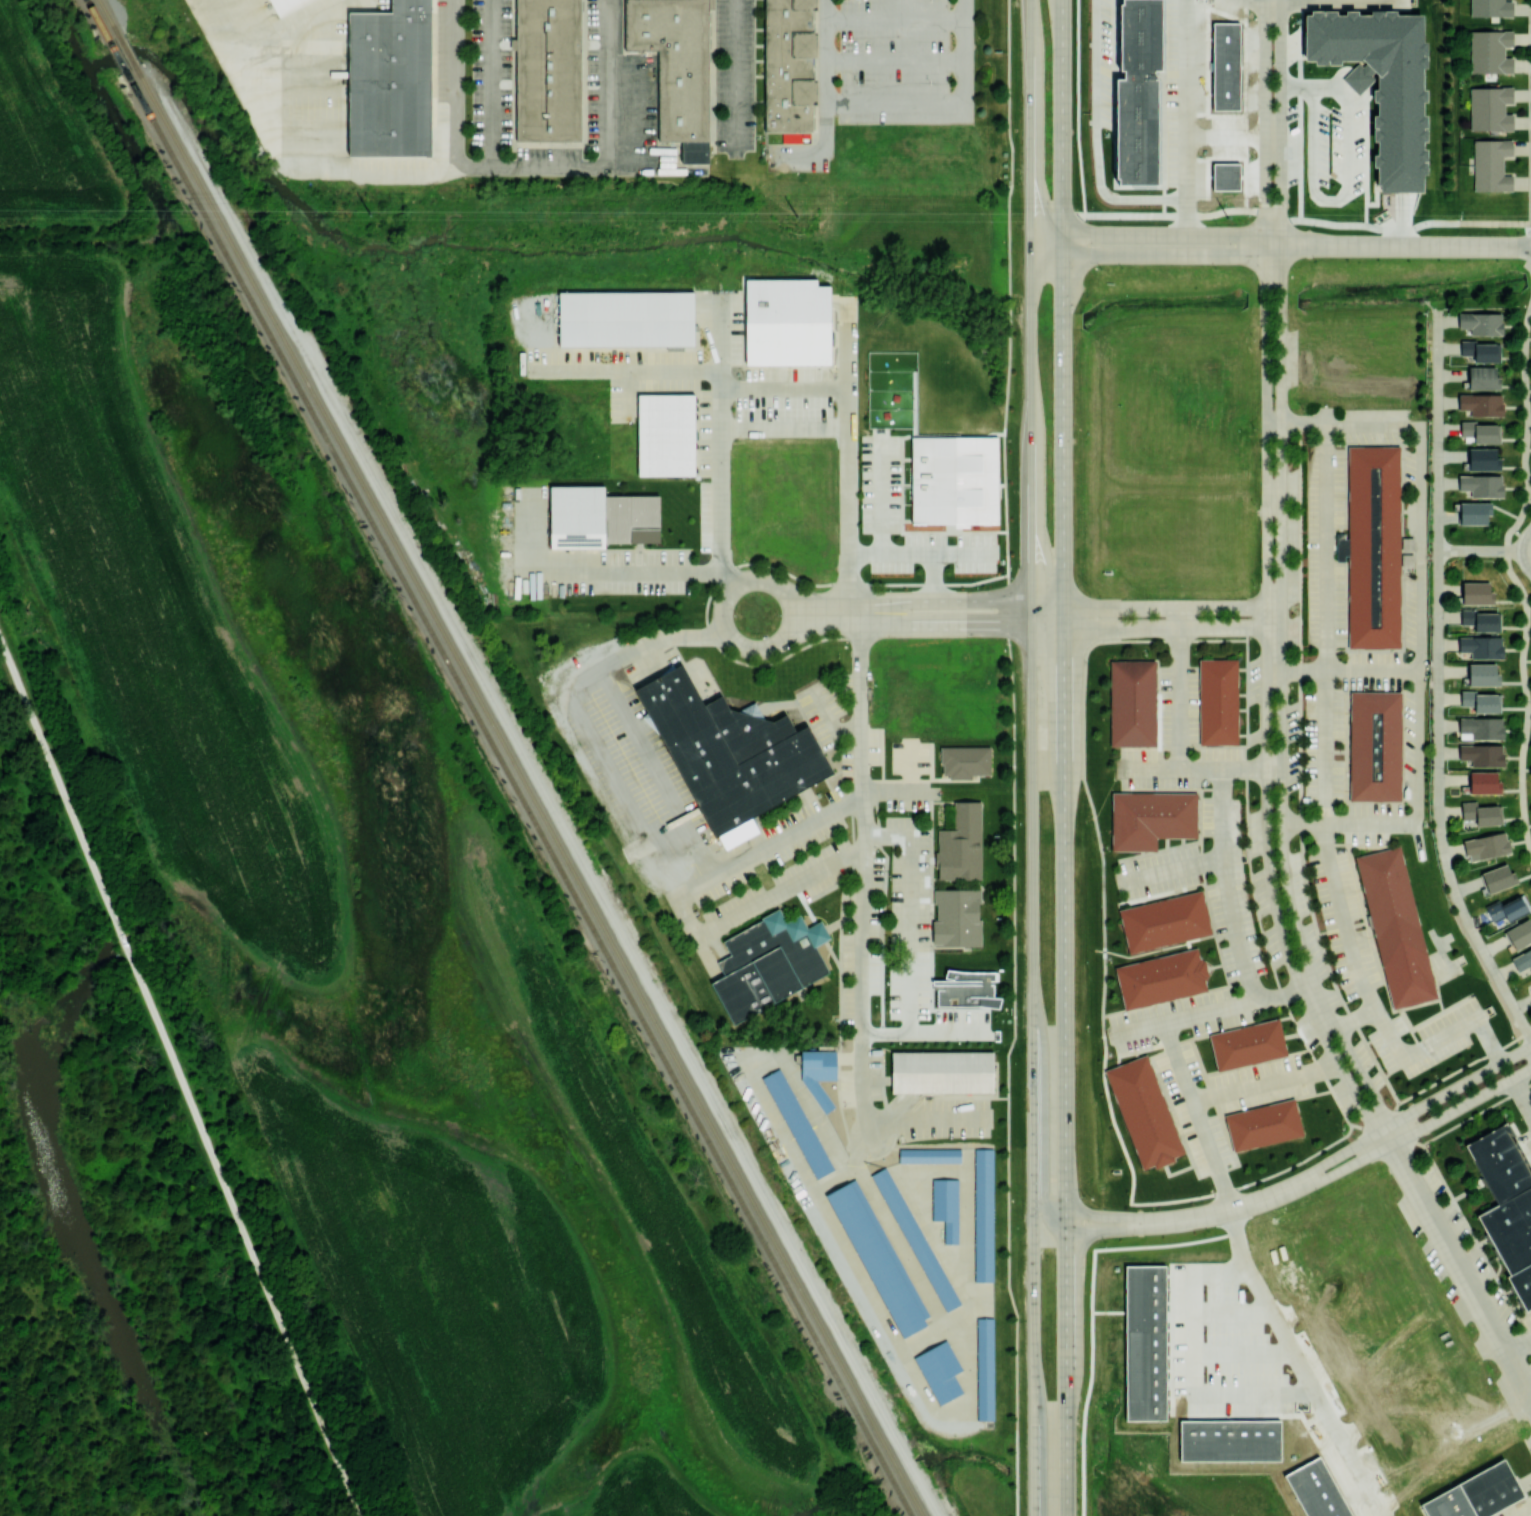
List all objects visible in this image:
road: (1336, 0)
road: (1260, 1)
road: (1271, 1)
building: (286, 6)
building: (1490, 8)
railway: (92, 11)
railway: (109, 11)
road: (894, 21)
road: (214, 25)
road: (1031, 44)
building: (1490, 51)
road: (965, 54)
railway: (116, 55)
railway: (133, 55)
road: (894, 63)
building: (791, 66)
building: (1226, 66)
building: (678, 68)
building: (548, 71)
road: (734, 74)
road: (1339, 76)
building: (1360, 77)
road: (1358, 79)
building: (391, 80)
road: (609, 82)
building: (1382, 82)
road: (492, 83)
road: (1297, 86)
building: (1137, 92)
road: (824, 95)
road: (1362, 99)
building: (1489, 108)
road: (894, 109)
road: (1188, 117)
road: (1265, 122)
road: (1280, 122)
road: (1095, 138)
building: (1491, 164)
road: (555, 165)
road: (325, 166)
building: (1225, 175)
road: (1340, 196)
power tower: (369, 214)
power tower: (796, 215)
power tower: (1227, 217)
road: (1403, 218)
road: (1314, 222)
road: (1149, 234)
road: (1398, 245)
road: (1149, 254)
road: (1008, 291)
road: (1063, 313)
building: (626, 315)
building: (789, 322)
building: (1481, 322)
building: (1478, 350)
road: (1032, 356)
road: (630, 371)
building: (1482, 378)
road: (740, 390)
road: (629, 394)
building: (1481, 404)
road: (1294, 425)
building: (1478, 431)
road: (763, 432)
building: (667, 433)
building: (1482, 459)
road: (848, 460)
building: (955, 480)
building: (1482, 484)
road: (882, 495)
building: (1473, 512)
road: (720, 514)
building: (601, 517)
building: (1406, 543)
building: (1373, 545)
road: (1472, 550)
road: (1513, 550)
road: (1519, 550)
road: (921, 553)
road: (587, 570)
road: (933, 578)
road: (1513, 578)
road: (1418, 585)
building: (1476, 592)
road: (919, 603)
road: (1173, 607)
road: (1008, 609)
road: (722, 617)
building: (1480, 619)
road: (908, 625)
road: (1156, 627)
building: (1482, 646)
road: (1295, 670)
road: (1371, 670)
building: (1482, 674)
road: (1436, 685)
building: (1480, 700)
building: (1132, 702)
building: (1217, 703)
road: (1281, 705)
road: (1266, 709)
park: (830, 714)
road: (833, 724)
building: (1482, 727)
road: (1179, 737)
building: (1374, 747)
building: (1482, 754)
building: (731, 755)
building: (964, 761)
road: (1149, 766)
building: (1483, 782)
railway: (522, 801)
railway: (538, 802)
building: (1481, 813)
road: (638, 819)
building: (1149, 819)
road: (1302, 825)
building: (961, 843)
building: (1486, 845)
road: (770, 846)
road: (864, 869)
road: (1173, 869)
building: (1497, 877)
road: (1102, 888)
building: (1507, 908)
road: (1231, 910)
building: (957, 917)
building: (1164, 922)
building: (1395, 927)
road: (910, 933)
building: (1519, 933)
building: (1522, 959)
building: (768, 963)
building: (1160, 979)
building: (965, 989)
road: (1186, 1015)
road: (1355, 1017)
road: (1487, 1040)
building: (1247, 1044)
building: (942, 1069)
road: (1034, 1070)
road: (1065, 1071)
road: (1007, 1075)
road: (180, 1076)
road: (1264, 1082)
road: (1521, 1095)
building: (1144, 1112)
road: (1043, 1115)
road: (926, 1118)
road: (1197, 1118)
building: (797, 1122)
building: (1262, 1127)
building: (929, 1154)
road: (1304, 1173)
road: (1309, 1185)
building: (947, 1206)
building: (1508, 1209)
building: (984, 1213)
road: (885, 1223)
building: (915, 1237)
building: (878, 1257)
road: (1461, 1269)
road: (1090, 1312)
road: (1108, 1312)
road: (1230, 1313)
road: (931, 1330)
road: (892, 1340)
road: (1518, 1341)
building: (1145, 1343)
road: (1242, 1354)
road: (1190, 1364)
road: (1301, 1367)
building: (986, 1369)
building: (940, 1371)
building: (1230, 1441)
building: (1318, 1490)
building: (1474, 1495)
road: (1528, 1514)

